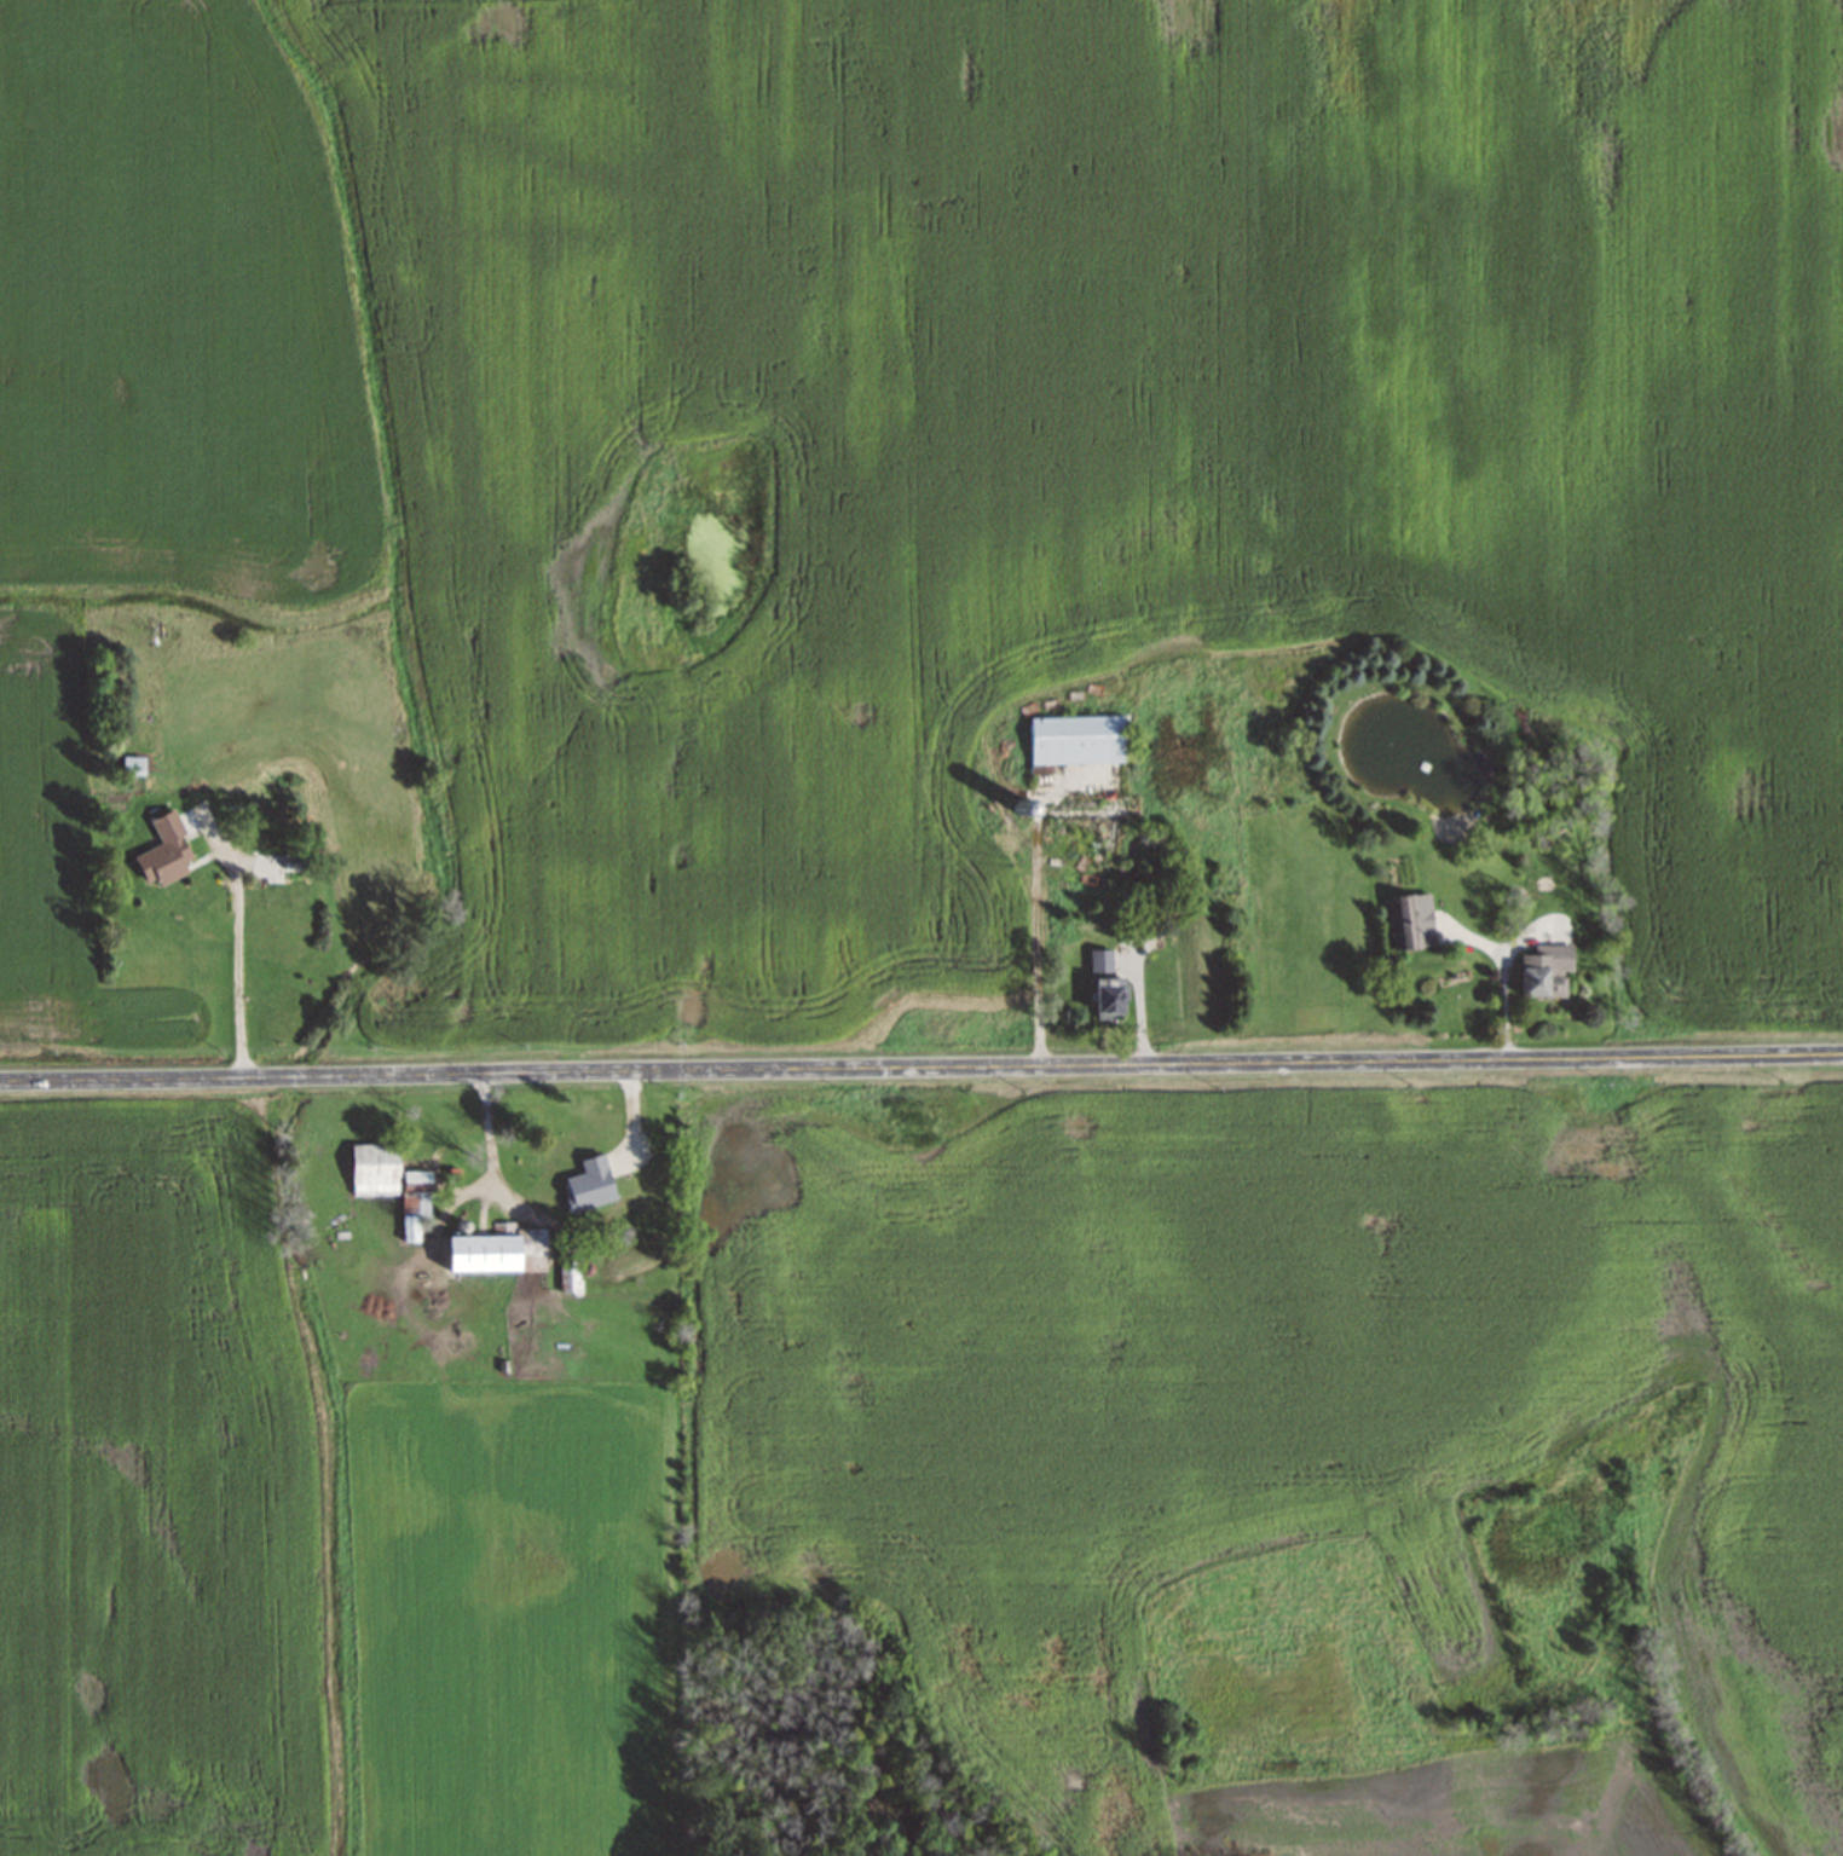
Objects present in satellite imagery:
building: (1076, 739)
building: (133, 767)
building: (1206, 880)
building: (281, 887)
building: (1404, 924)
building: (1099, 961)
building: (1544, 971)
building: (1107, 999)
road: (920, 1068)
building: (374, 1169)
building: (574, 1187)
building: (414, 1202)
building: (491, 1260)
building: (568, 1271)

